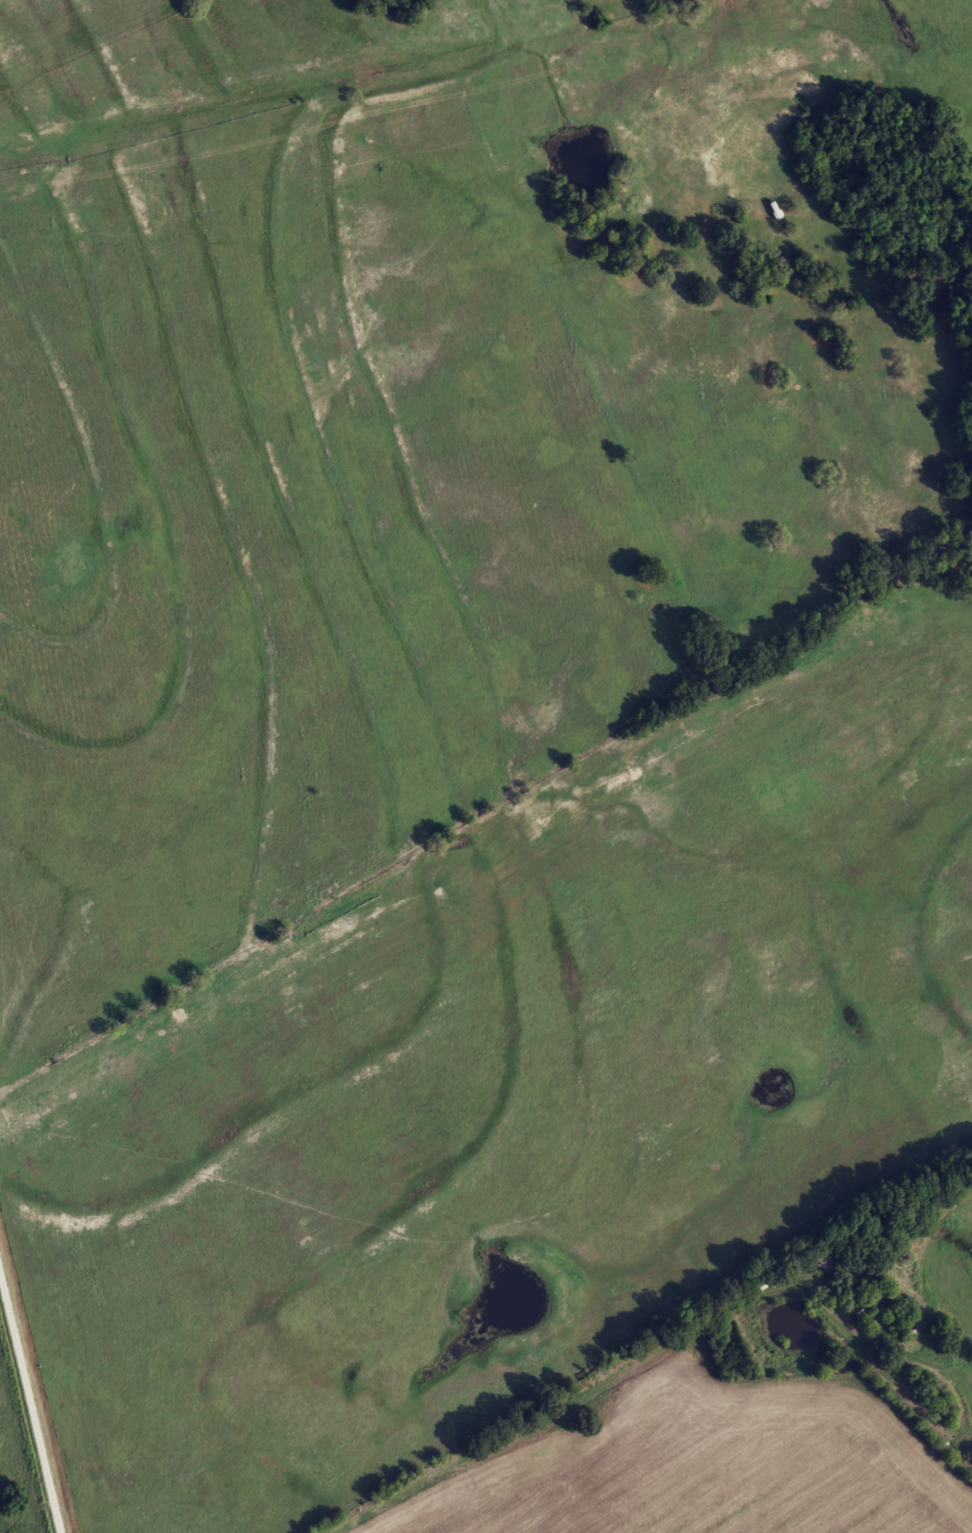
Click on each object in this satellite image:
road: (694, 1323)
road: (33, 1399)
road: (23, 1462)

